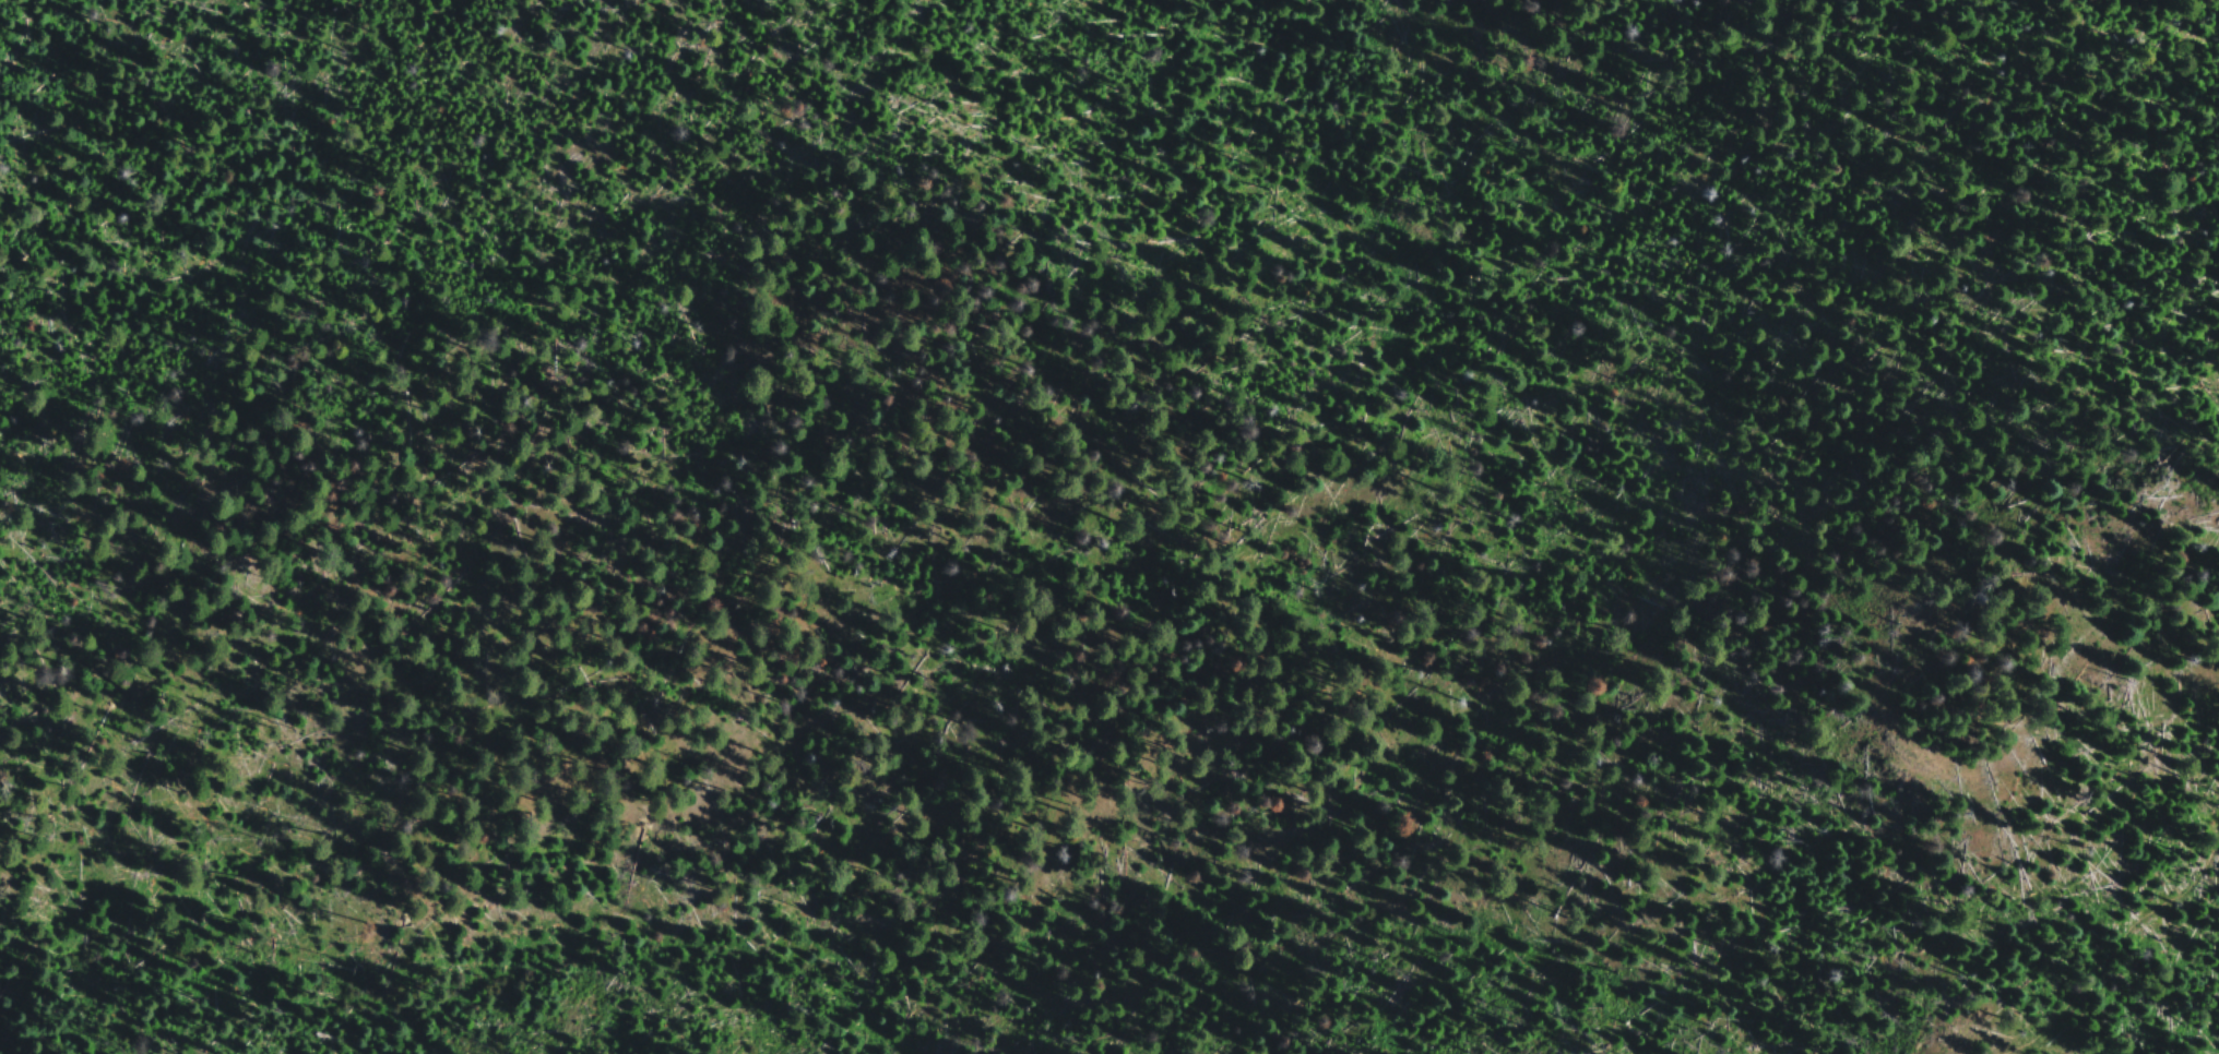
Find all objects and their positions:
road: (2124, 963)

